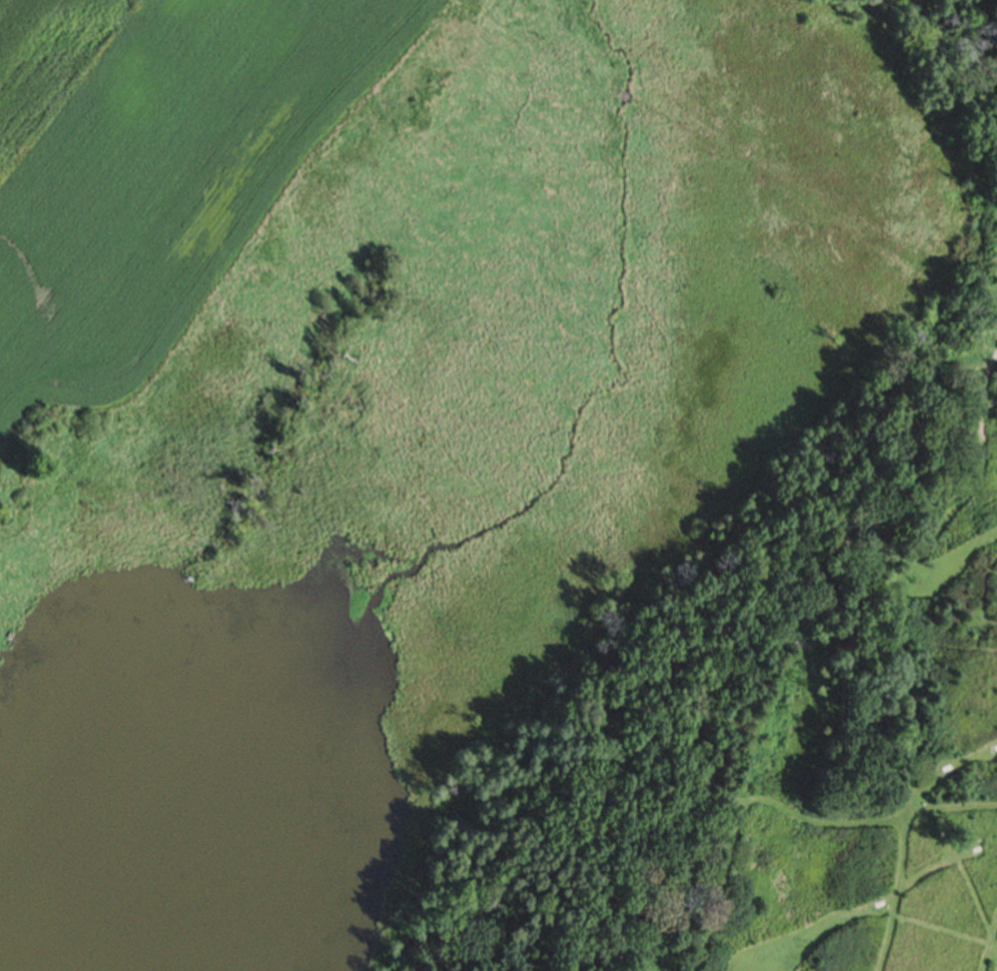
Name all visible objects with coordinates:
park: (802, 510)
road: (988, 944)

